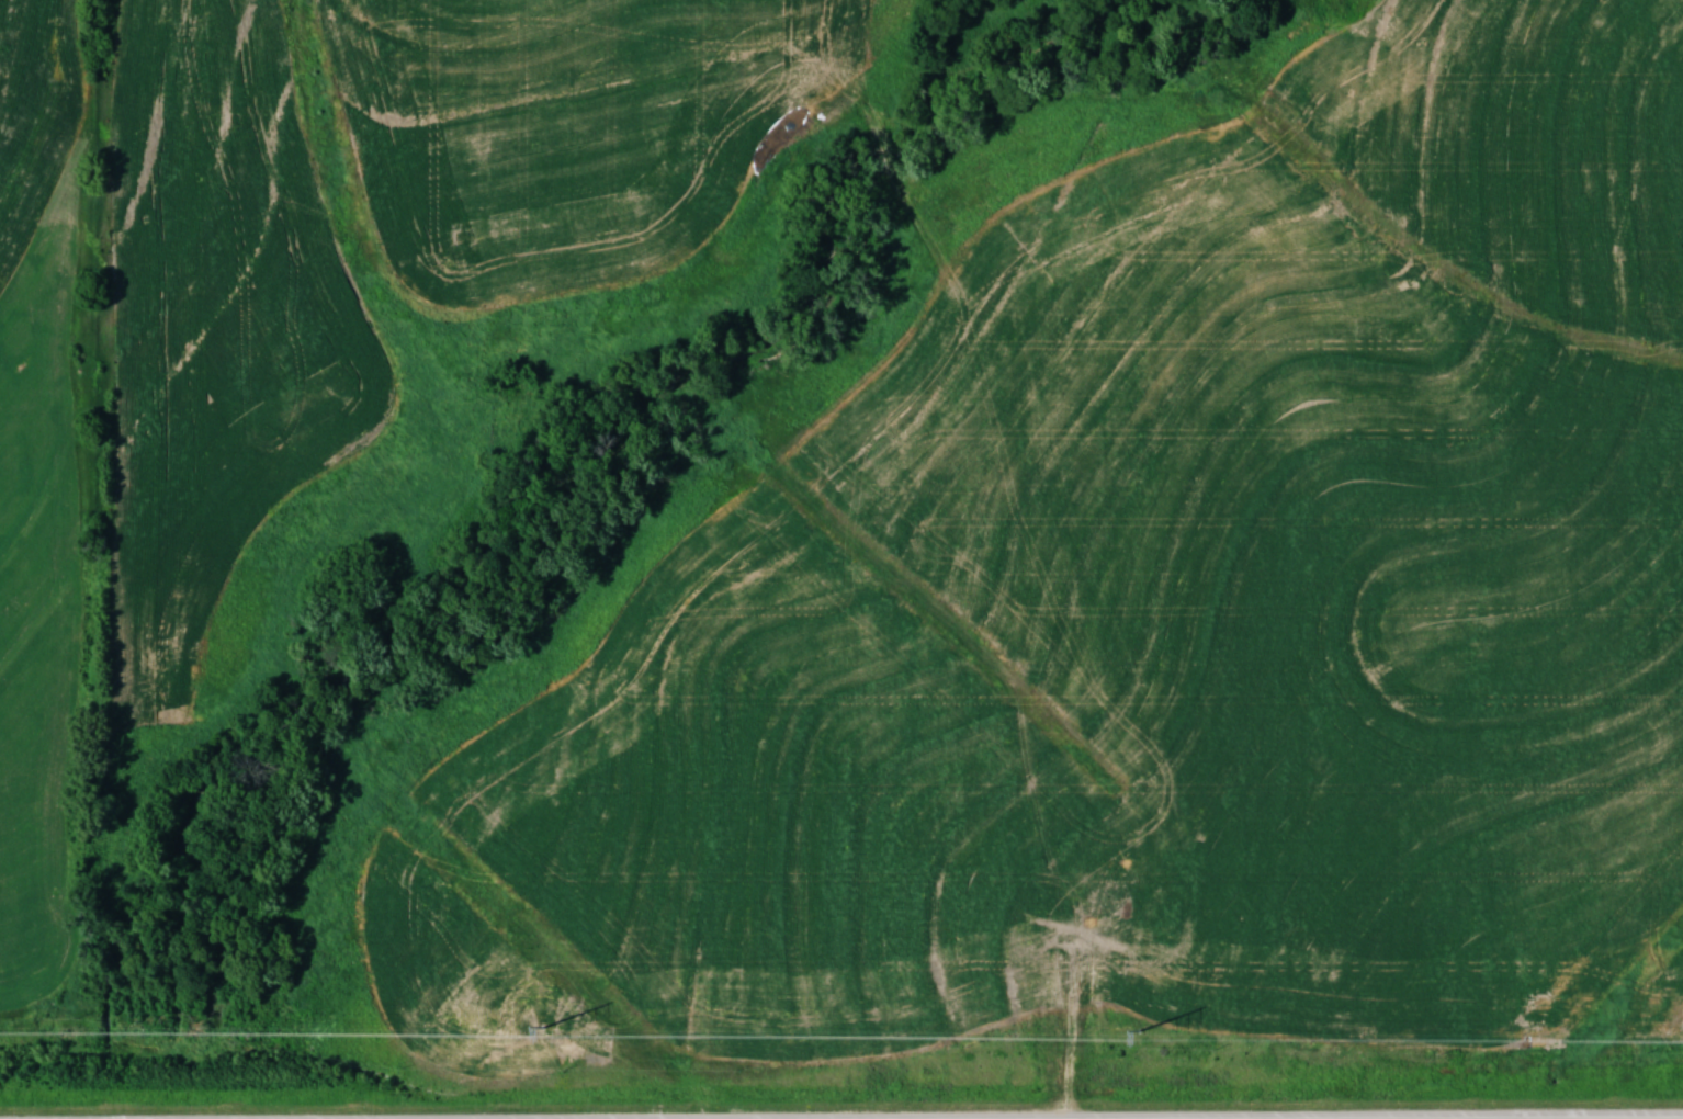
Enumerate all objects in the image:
power tower: (541, 1029)
power tower: (1143, 1031)

